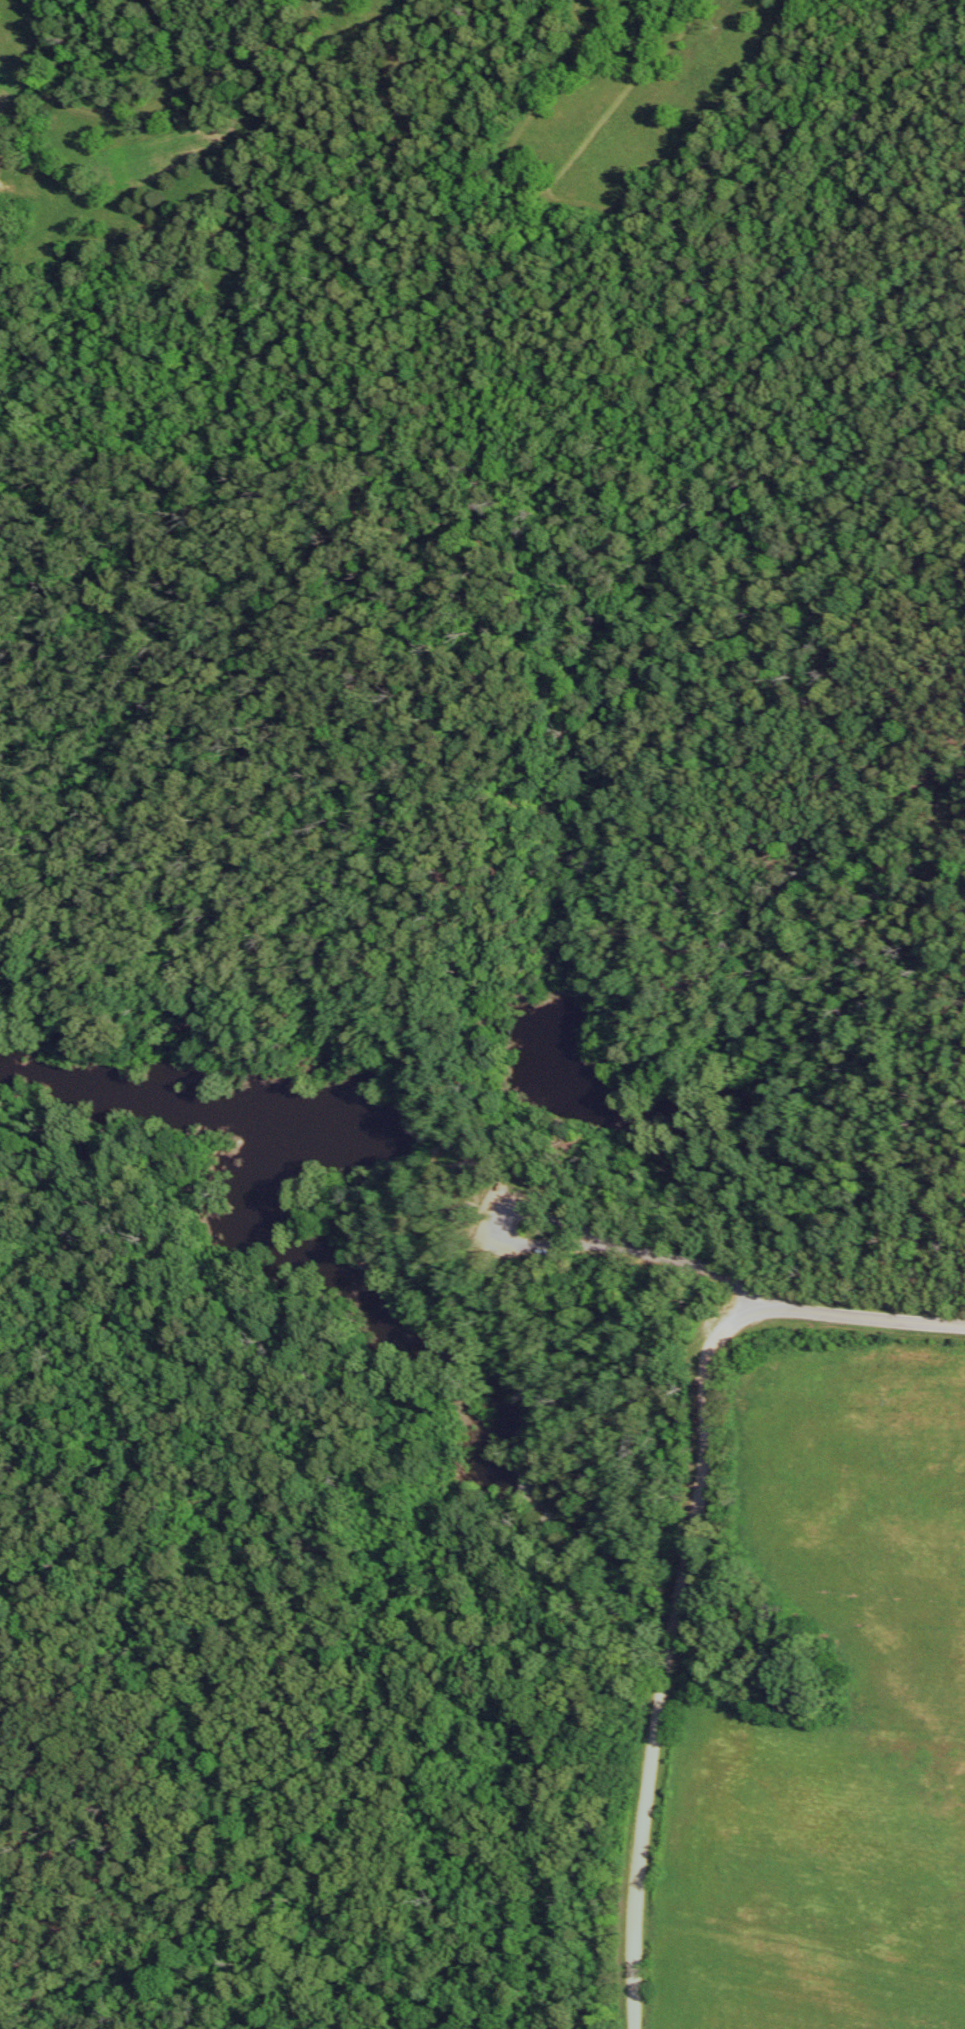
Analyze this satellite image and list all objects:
road: (389, 653)
road: (219, 970)
road: (302, 1012)
road: (461, 1075)
river: (168, 1109)
road: (539, 1158)
park: (425, 1176)
road: (567, 1224)
road: (428, 1227)
road: (372, 1238)
road: (697, 1269)
road: (862, 1317)
road: (555, 1349)
road: (660, 1654)

